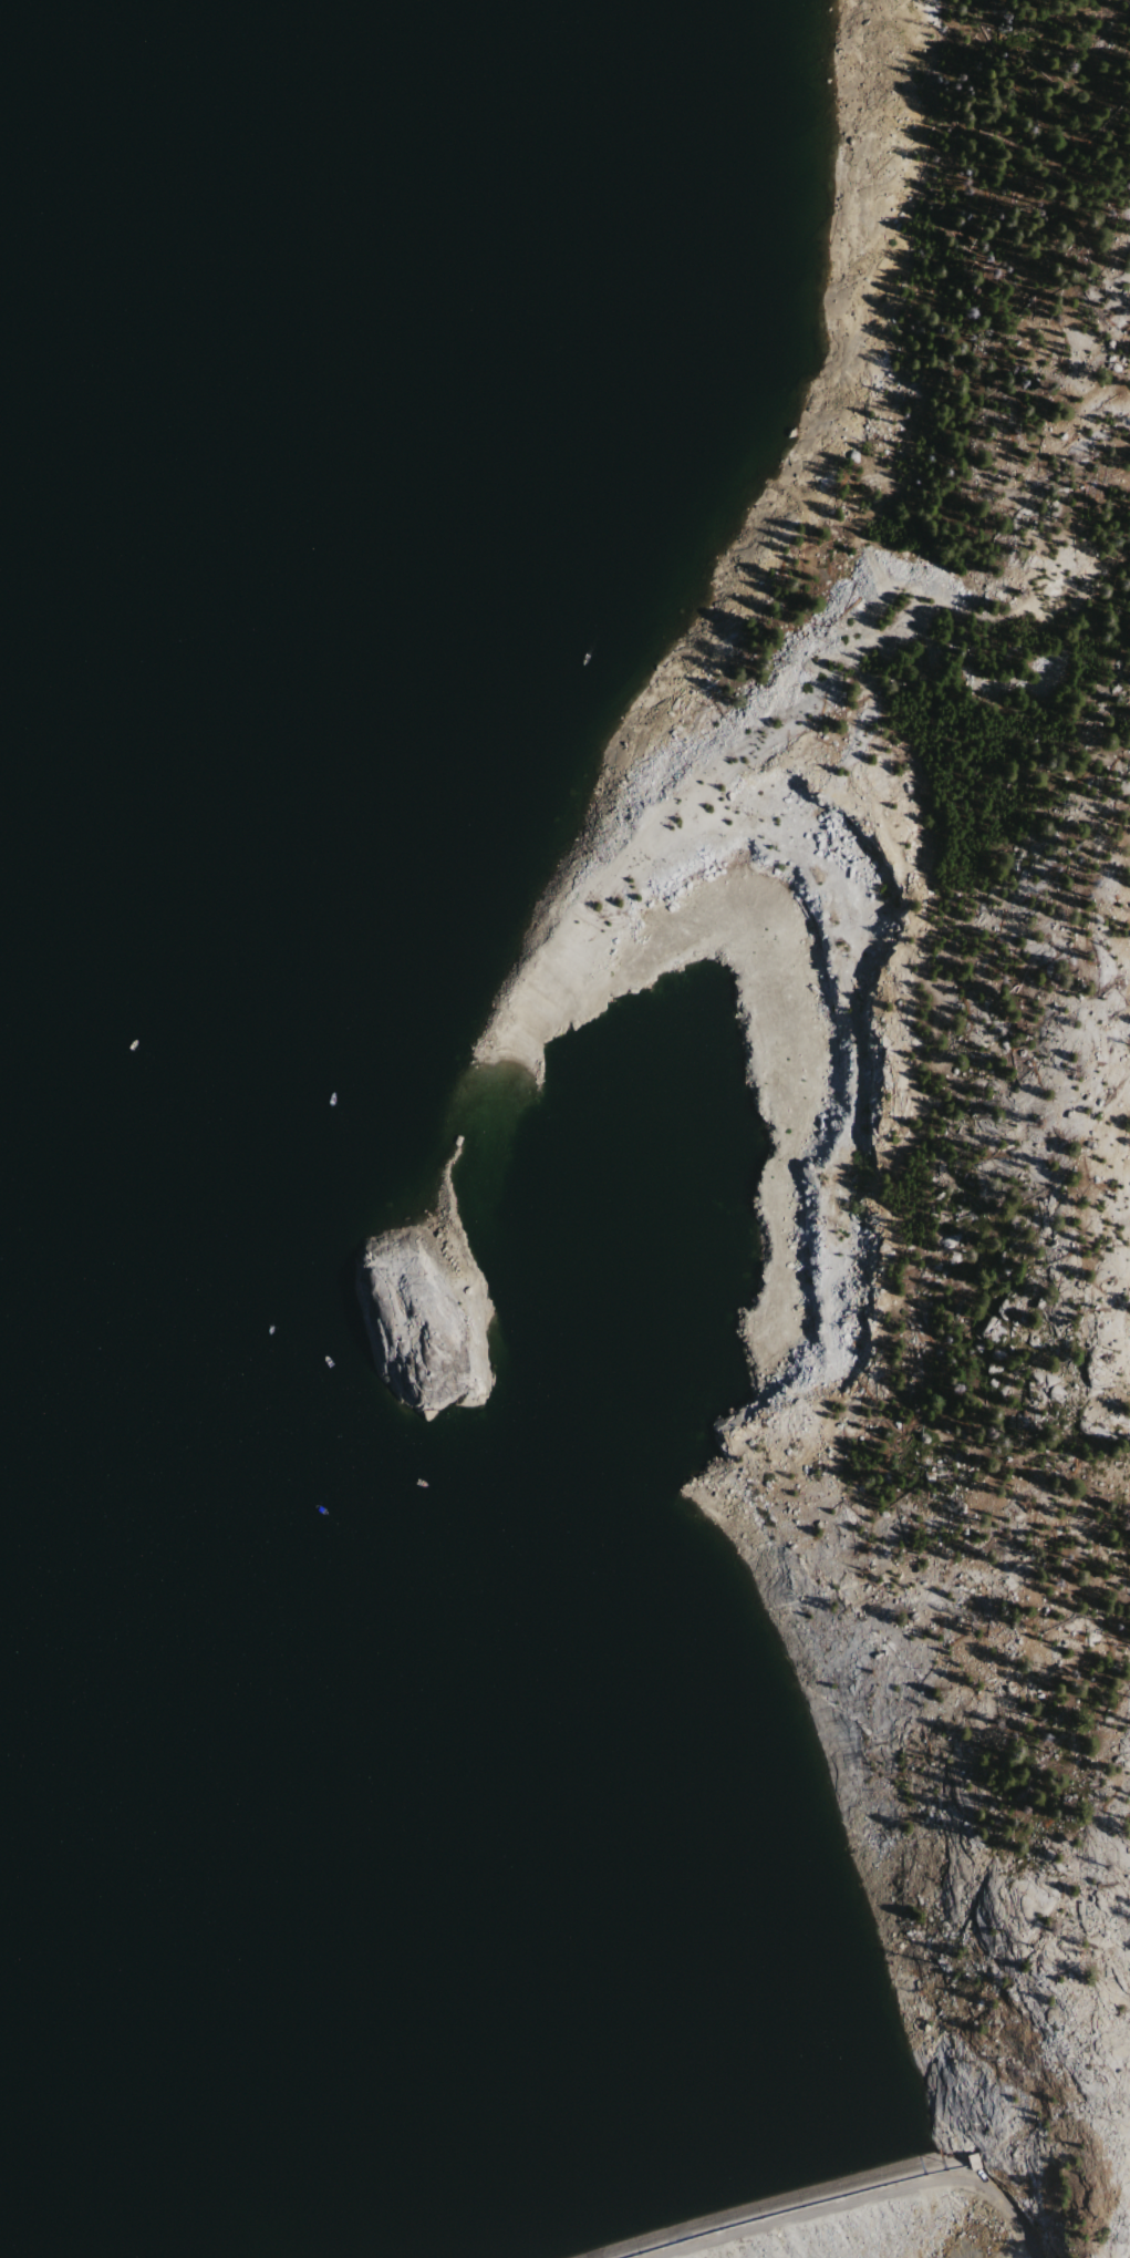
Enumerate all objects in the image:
road: (875, 2195)
dam: (857, 2224)

